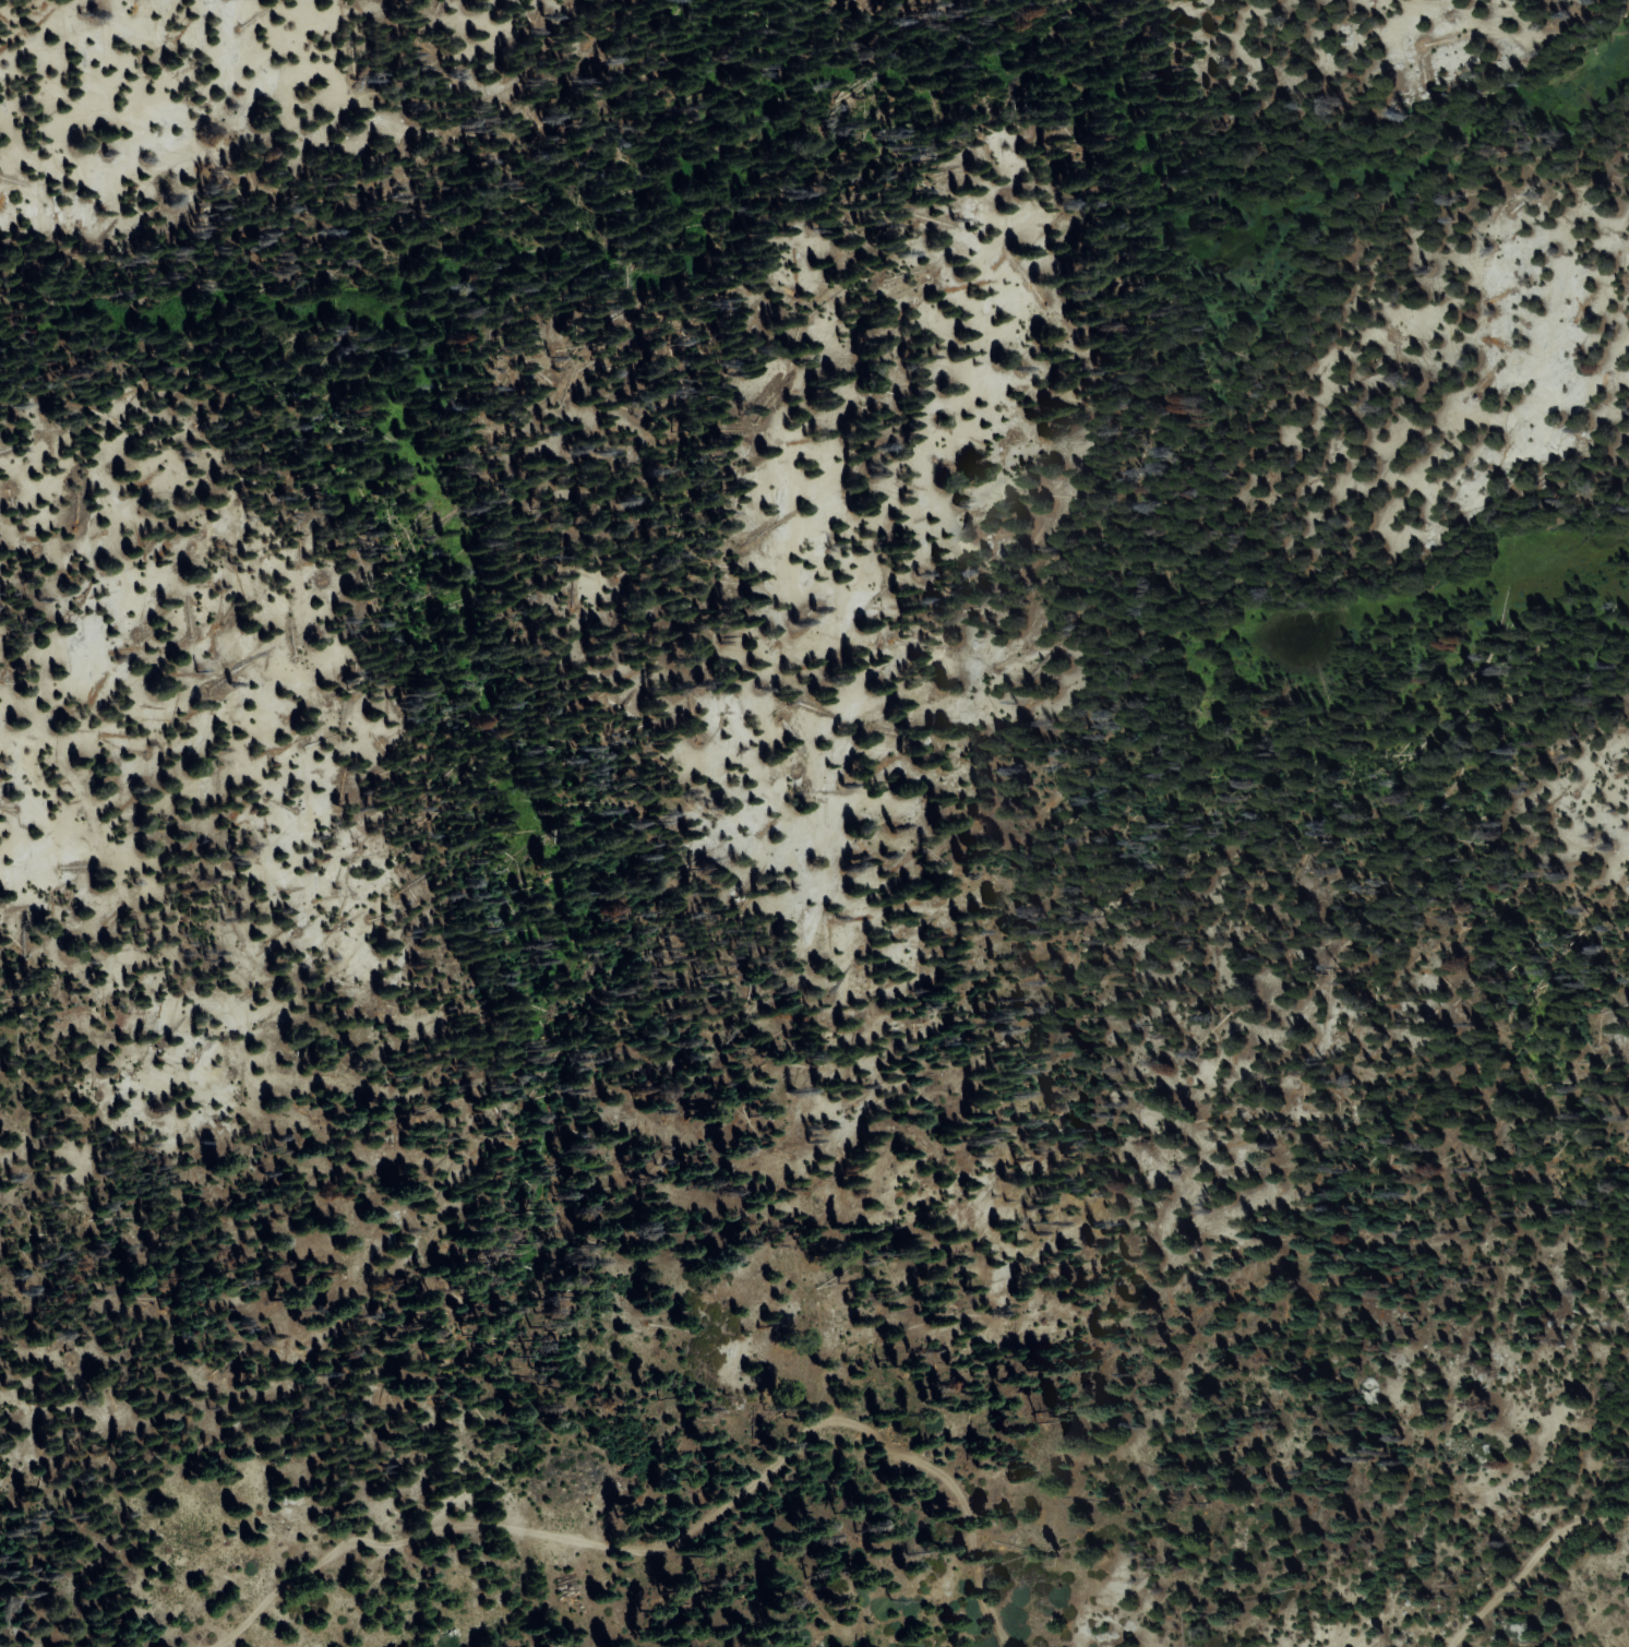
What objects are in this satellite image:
road: (690, 1519)
road: (1526, 1563)

